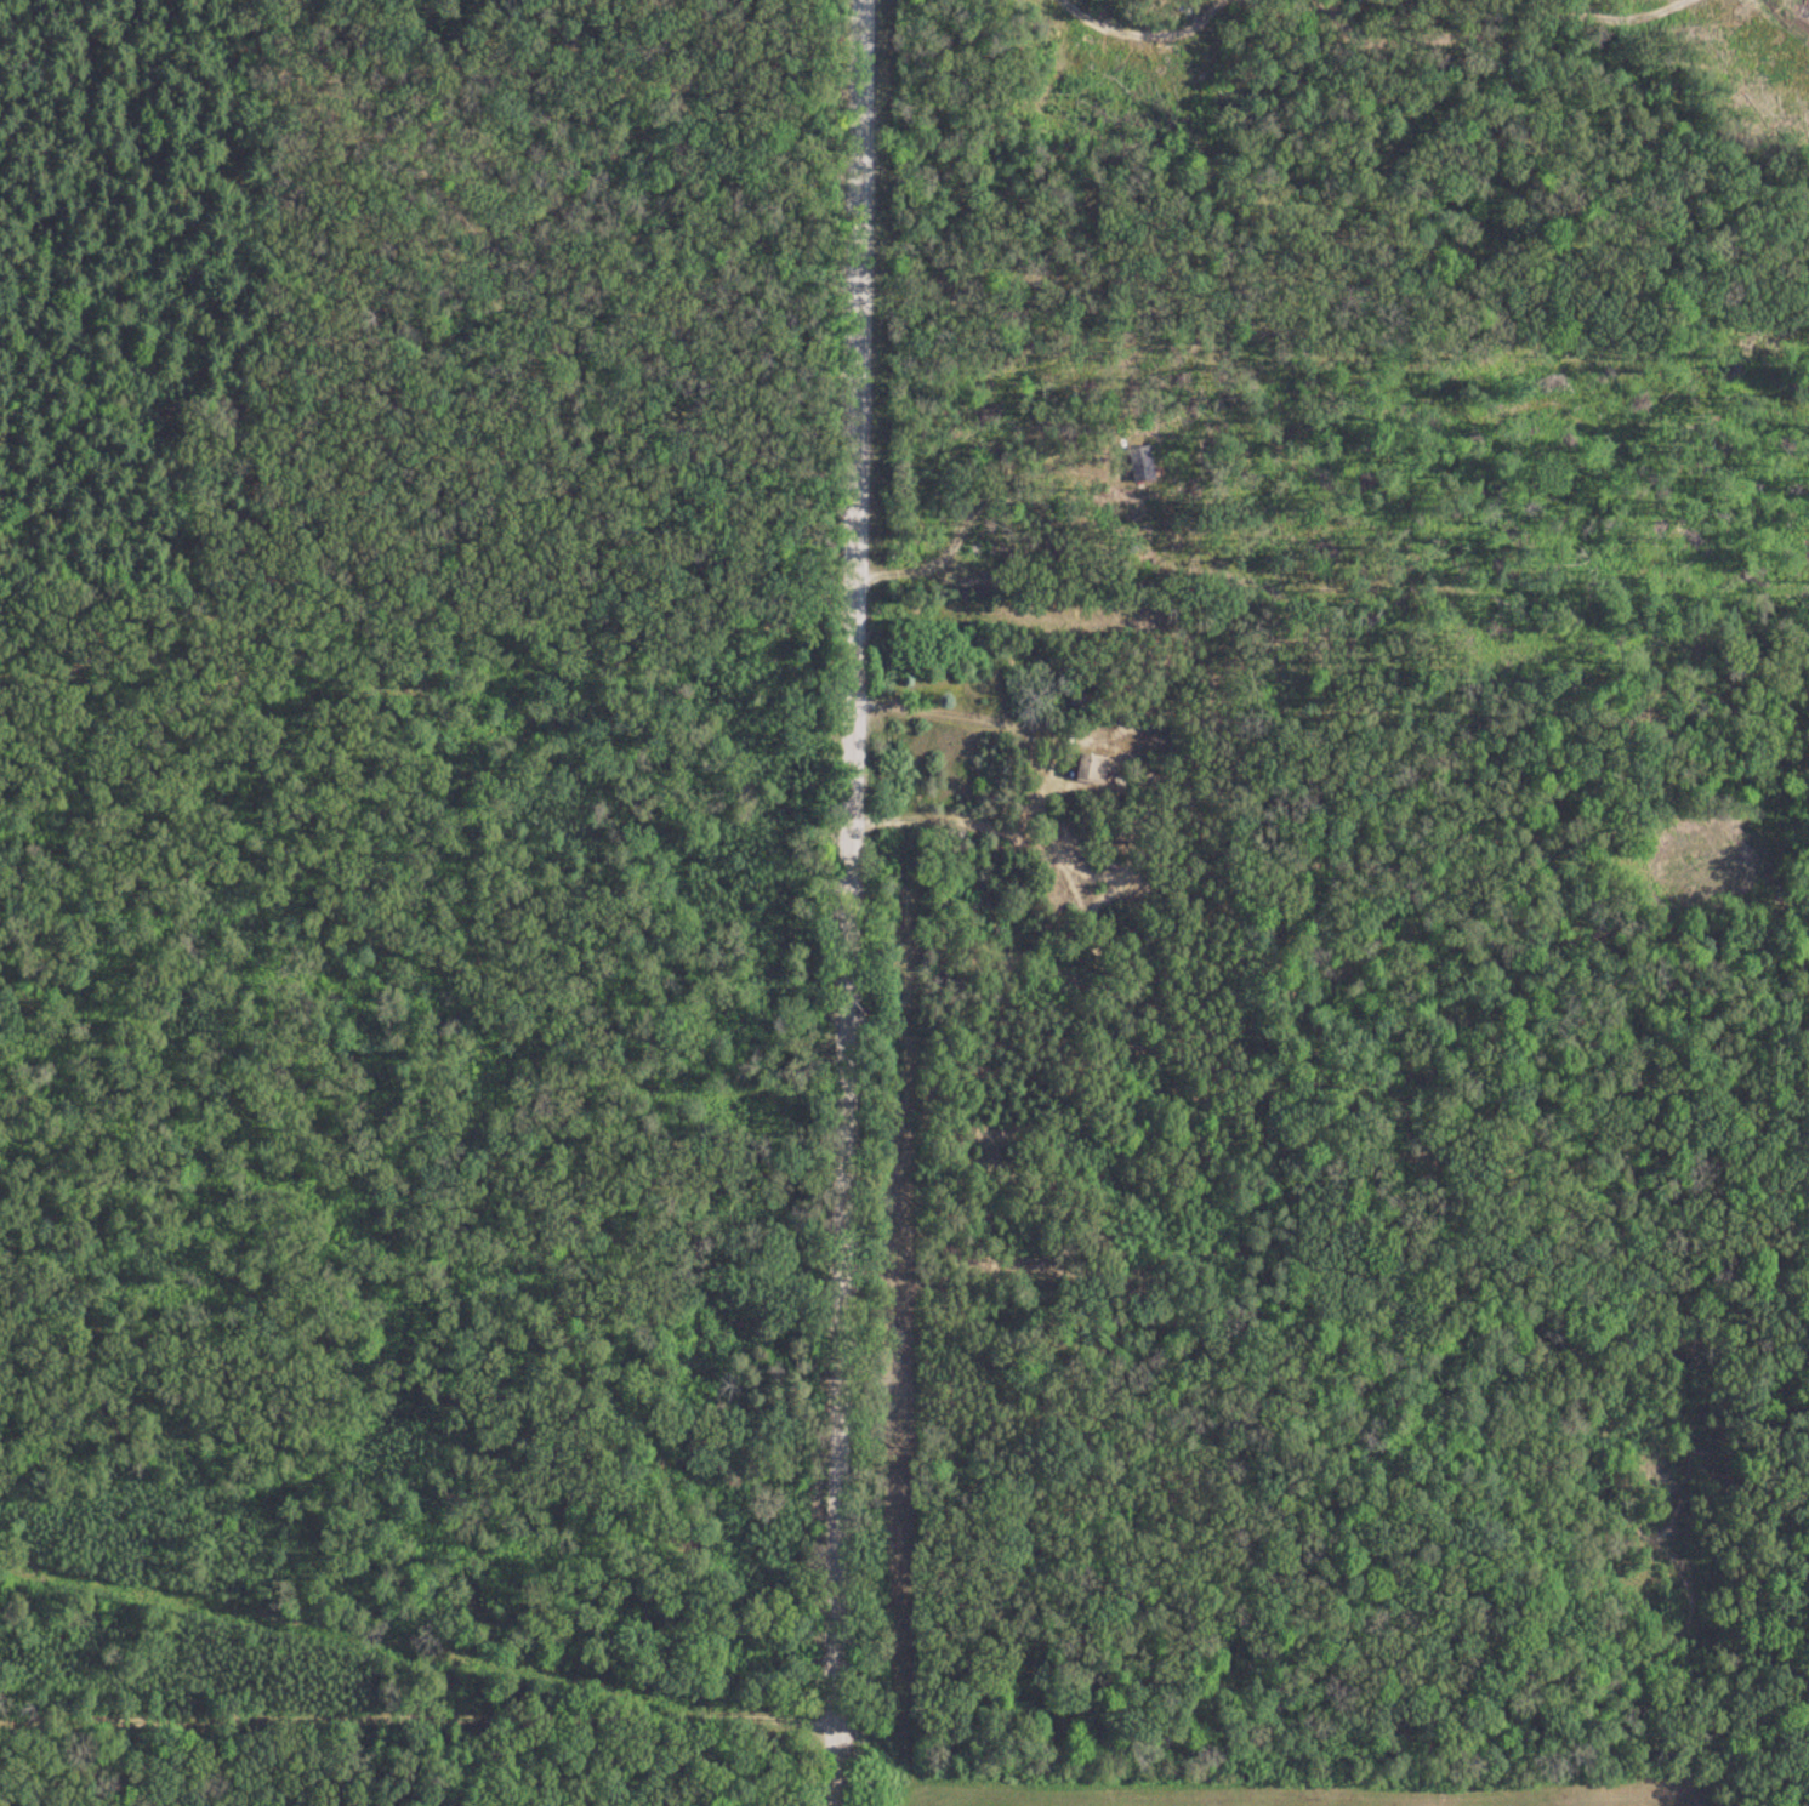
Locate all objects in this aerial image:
road: (489, 278)
building: (1090, 767)
road: (831, 902)
road: (408, 1719)

